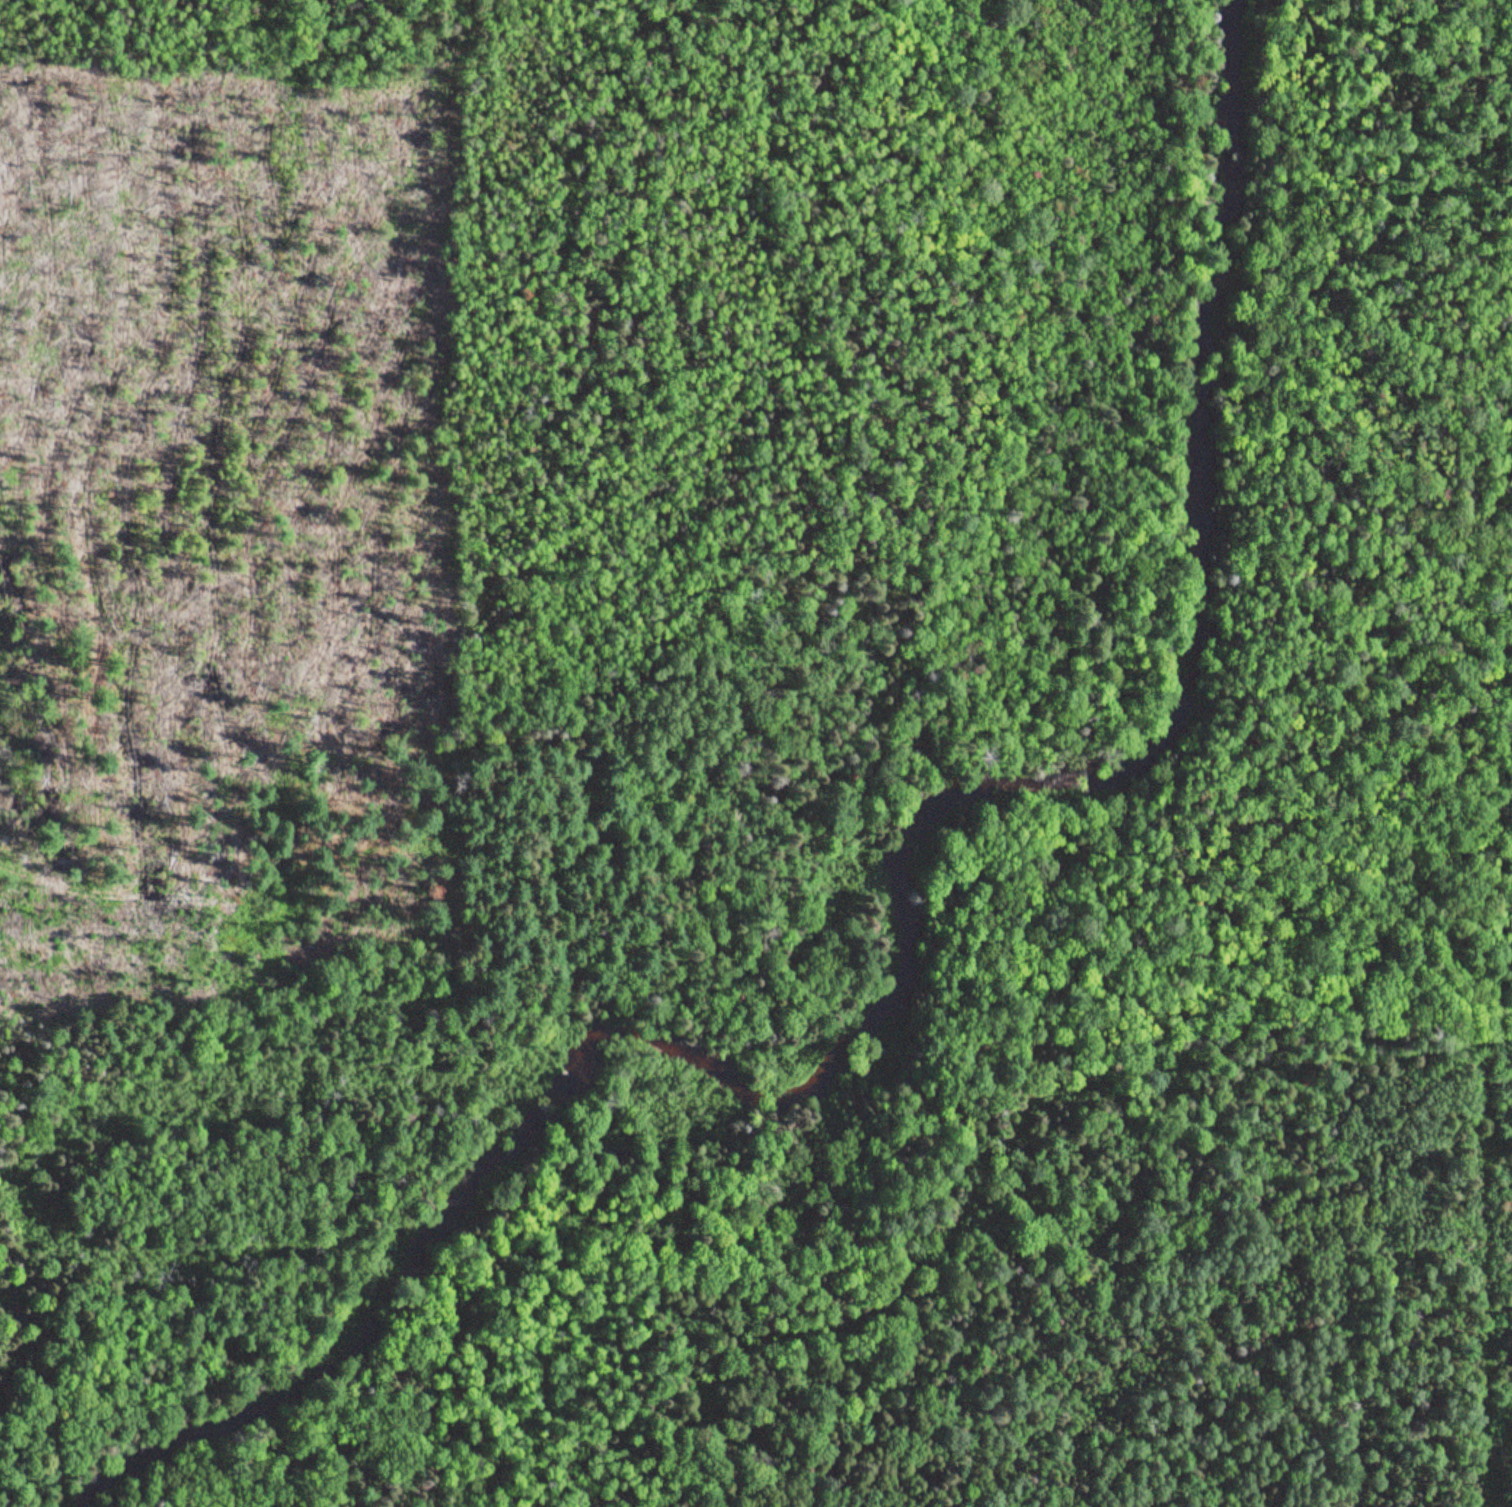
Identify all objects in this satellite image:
river: (992, 805)
river: (219, 1434)

